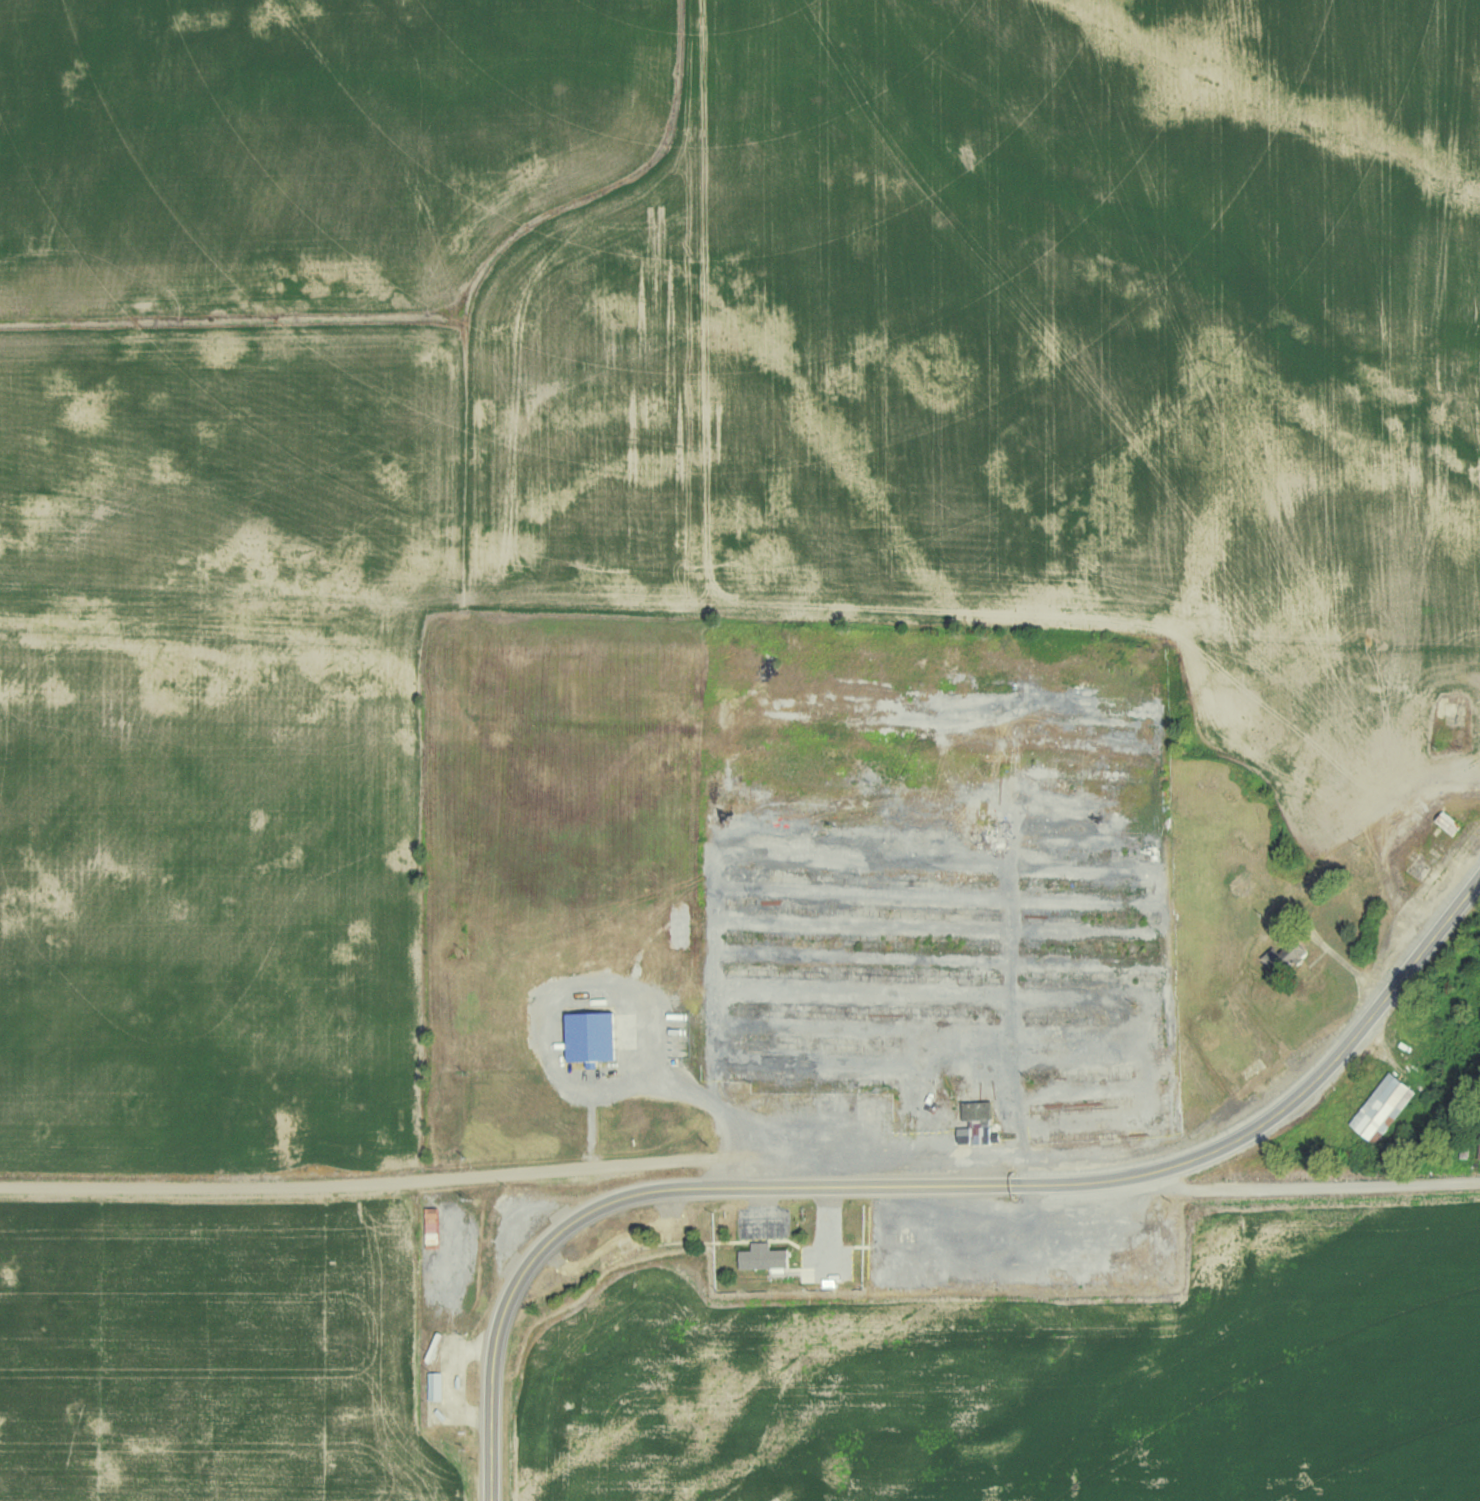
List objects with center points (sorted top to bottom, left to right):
building: (1280, 957)
building: (590, 1036)
building: (1379, 1107)
road: (590, 1118)
building: (977, 1124)
road: (540, 1168)
road: (1088, 1180)
road: (1412, 1180)
road: (1232, 1183)
road: (166, 1187)
building: (765, 1256)
road: (494, 1344)
building: (437, 1386)

